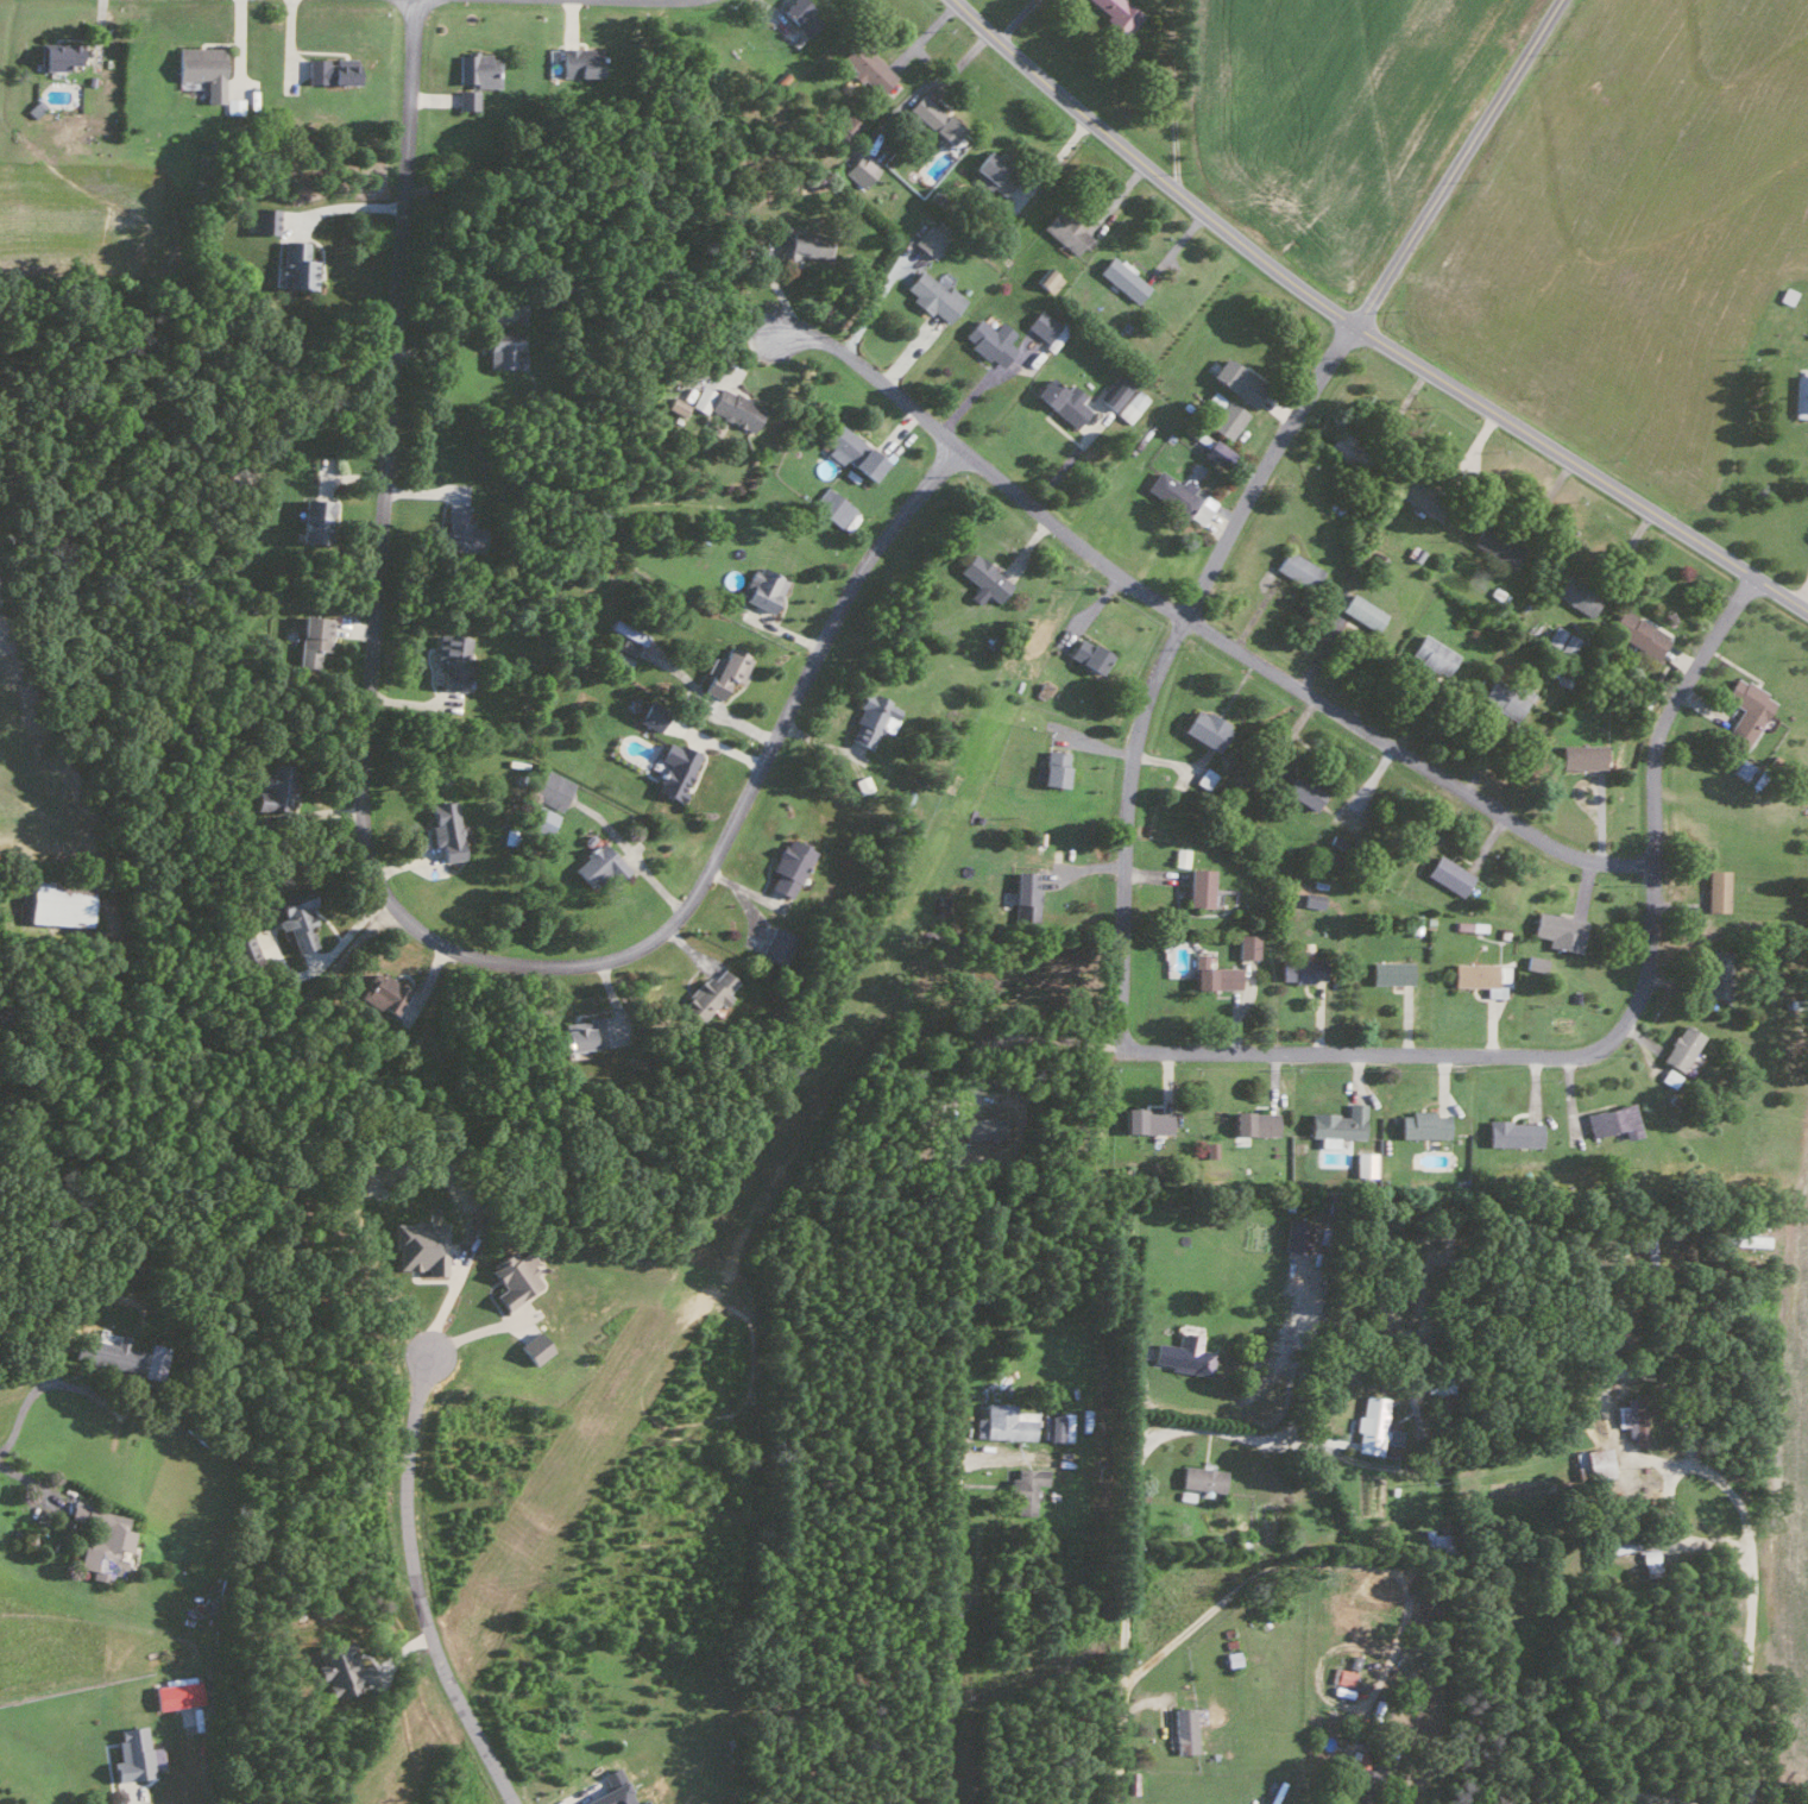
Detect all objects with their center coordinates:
building: (1116, 12)
building: (796, 20)
road: (1014, 20)
building: (55, 55)
building: (574, 61)
building: (864, 65)
building: (200, 68)
building: (327, 69)
building: (472, 76)
road: (934, 81)
road: (1174, 95)
building: (931, 117)
building: (843, 124)
road: (1050, 162)
road: (1454, 162)
building: (856, 168)
building: (989, 170)
building: (263, 219)
building: (1062, 230)
building: (930, 237)
building: (799, 243)
building: (292, 264)
building: (1120, 277)
building: (1046, 279)
building: (932, 295)
building: (1040, 323)
road: (1362, 331)
building: (987, 339)
building: (502, 352)
building: (1236, 379)
building: (1114, 391)
building: (1800, 395)
building: (1059, 400)
building: (674, 404)
building: (724, 404)
building: (1130, 406)
building: (1223, 413)
building: (849, 451)
building: (1349, 451)
building: (1418, 494)
building: (831, 507)
building: (311, 518)
building: (458, 529)
building: (1494, 543)
building: (1377, 558)
building: (1294, 567)
building: (982, 576)
building: (760, 587)
building: (1575, 596)
road: (1803, 596)
building: (1360, 610)
road: (1197, 627)
building: (1637, 633)
building: (624, 636)
building: (310, 639)
building: (1560, 639)
building: (1085, 654)
building: (1431, 654)
building: (620, 658)
building: (449, 661)
road: (1160, 661)
building: (722, 670)
building: (1503, 697)
building: (632, 703)
building: (1743, 712)
building: (648, 714)
building: (868, 718)
building: (1202, 728)
building: (1581, 755)
building: (1048, 768)
building: (1741, 768)
building: (674, 769)
building: (1204, 778)
building: (861, 784)
building: (273, 787)
building: (550, 788)
building: (1300, 790)
building: (538, 819)
building: (443, 829)
building: (1180, 856)
building: (597, 865)
building: (787, 866)
building: (1447, 874)
road: (380, 886)
building: (1197, 887)
building: (1714, 890)
building: (1023, 895)
building: (1310, 899)
building: (58, 901)
building: (294, 917)
building: (1468, 925)
building: (1556, 930)
building: (260, 942)
building: (773, 945)
building: (1247, 945)
building: (1533, 962)
building: (1299, 969)
building: (1388, 972)
building: (1716, 972)
building: (1212, 974)
building: (1479, 976)
building: (382, 993)
building: (706, 993)
building: (585, 1035)
road: (1612, 1035)
road: (241, 1046)
building: (1680, 1046)
building: (1668, 1077)
building: (1145, 1120)
building: (1612, 1120)
building: (1252, 1123)
building: (1336, 1123)
building: (1422, 1125)
building: (1511, 1133)
building: (1208, 1151)
building: (1362, 1163)
building: (1296, 1236)
building: (417, 1246)
building: (512, 1277)
building: (533, 1347)
building: (1600, 1352)
building: (112, 1353)
building: (1180, 1358)
road: (29, 1395)
building: (1631, 1418)
building: (1003, 1422)
building: (1372, 1426)
building: (1056, 1427)
road: (1607, 1429)
road: (1211, 1431)
building: (1589, 1464)
building: (1199, 1478)
road: (29, 1479)
building: (1022, 1488)
road: (1740, 1510)
building: (101, 1541)
building: (1648, 1559)
road: (1306, 1563)
road: (416, 1589)
road: (950, 1616)
road: (1126, 1635)
building: (340, 1670)
building: (1340, 1676)
building: (174, 1695)
building: (1183, 1728)
building: (128, 1754)
building: (610, 1789)
building: (1354, 1789)

